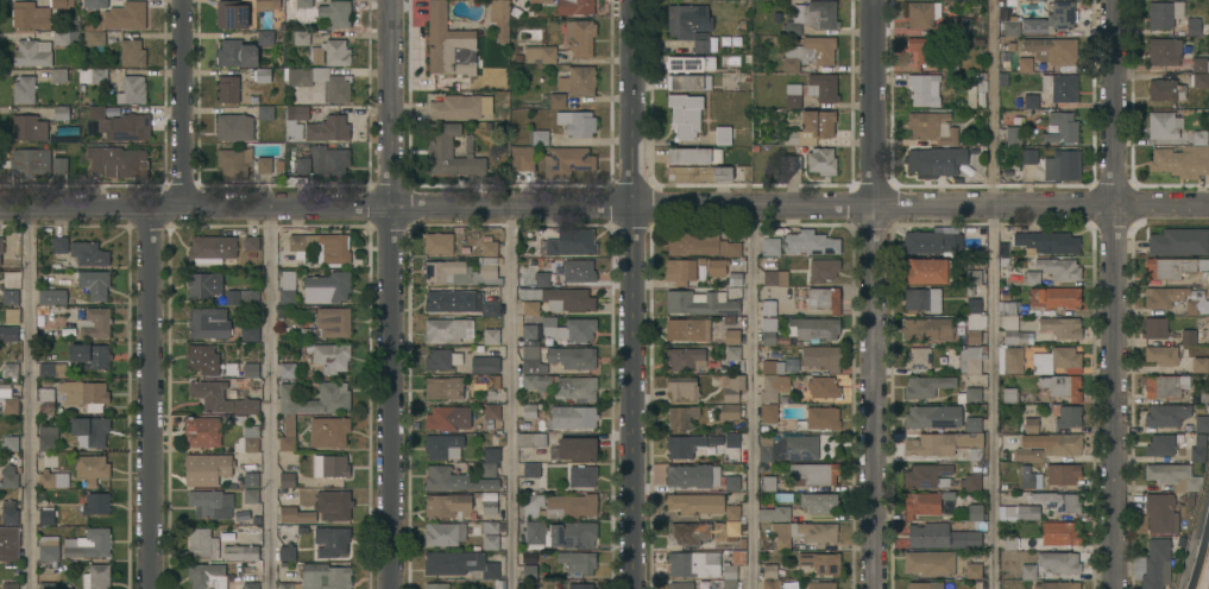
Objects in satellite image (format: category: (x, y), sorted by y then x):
building: (541, 1)
building: (61, 2)
building: (94, 4)
building: (267, 4)
building: (303, 4)
building: (574, 6)
building: (133, 13)
building: (335, 13)
building: (1164, 13)
building: (232, 14)
building: (923, 14)
building: (30, 15)
building: (813, 15)
building: (500, 19)
building: (1051, 19)
building: (688, 25)
building: (955, 25)
building: (1194, 26)
building: (1012, 27)
building: (64, 37)
building: (580, 37)
building: (94, 38)
building: (265, 38)
building: (301, 38)
building: (447, 43)
building: (920, 50)
building: (1052, 50)
building: (1164, 51)
building: (32, 52)
building: (132, 52)
building: (810, 52)
building: (237, 53)
building: (330, 53)
building: (540, 55)
building: (952, 59)
building: (689, 63)
building: (1025, 64)
building: (1199, 64)
building: (58, 75)
building: (93, 75)
building: (263, 75)
building: (577, 80)
building: (1199, 80)
building: (688, 82)
building: (981, 82)
building: (336, 85)
building: (823, 87)
building: (1060, 87)
building: (24, 89)
building: (227, 89)
building: (924, 89)
building: (1165, 89)
building: (132, 90)
building: (793, 95)
building: (558, 100)
building: (1031, 101)
road: (188, 103)
building: (460, 107)
building: (265, 112)
building: (61, 113)
building: (298, 113)
building: (685, 115)
building: (818, 122)
building: (1165, 123)
building: (121, 125)
building: (575, 125)
building: (29, 127)
building: (234, 127)
building: (932, 127)
building: (1062, 127)
building: (328, 128)
building: (294, 132)
building: (723, 135)
building: (1014, 135)
building: (539, 137)
building: (791, 138)
building: (1199, 138)
building: (440, 146)
building: (693, 154)
building: (1029, 156)
building: (522, 158)
building: (329, 160)
building: (568, 160)
building: (821, 160)
building: (117, 161)
building: (234, 161)
building: (934, 161)
building: (1182, 161)
building: (31, 163)
building: (789, 163)
building: (59, 164)
building: (264, 165)
building: (303, 165)
building: (1063, 165)
building: (705, 173)
road: (604, 208)
building: (931, 241)
building: (1047, 241)
building: (1179, 241)
building: (439, 242)
building: (810, 242)
building: (569, 243)
building: (701, 243)
building: (1, 245)
building: (61, 245)
building: (251, 246)
building: (770, 246)
building: (322, 248)
building: (489, 248)
building: (212, 249)
building: (88, 253)
building: (717, 266)
building: (1059, 268)
building: (1176, 268)
building: (823, 270)
building: (462, 271)
building: (579, 271)
building: (680, 271)
building: (927, 271)
building: (1032, 277)
building: (540, 278)
building: (775, 278)
building: (735, 279)
building: (972, 279)
building: (92, 283)
building: (204, 284)
building: (327, 287)
building: (288, 289)
road: (392, 294)
road: (632, 294)
road: (868, 294)
road: (991, 294)
road: (1112, 294)
building: (10, 297)
building: (52, 297)
building: (248, 297)
building: (1056, 297)
building: (1160, 297)
building: (561, 298)
building: (824, 299)
building: (917, 299)
building: (439, 300)
building: (699, 303)
building: (768, 306)
building: (1196, 306)
building: (530, 308)
building: (490, 309)
building: (12, 315)
building: (975, 321)
building: (330, 322)
building: (95, 323)
building: (209, 323)
building: (1012, 324)
building: (1062, 327)
building: (813, 328)
building: (1156, 328)
building: (447, 329)
building: (562, 329)
building: (688, 330)
building: (928, 330)
building: (772, 331)
building: (250, 332)
building: (8, 334)
building: (491, 336)
building: (731, 336)
building: (1189, 336)
building: (732, 353)
building: (90, 355)
building: (1161, 355)
building: (330, 356)
building: (821, 356)
building: (202, 357)
building: (572, 357)
building: (442, 359)
building: (685, 359)
building: (1009, 359)
building: (531, 360)
building: (918, 360)
building: (970, 360)
building: (1054, 360)
building: (485, 363)
building: (1199, 365)
building: (773, 367)
building: (793, 367)
building: (11, 369)
building: (52, 370)
building: (288, 370)
building: (251, 372)
building: (484, 381)
building: (535, 381)
building: (927, 385)
building: (731, 386)
building: (1062, 386)
building: (1166, 386)
building: (577, 387)
building: (682, 387)
building: (823, 387)
building: (443, 388)
building: (775, 388)
building: (84, 394)
building: (1009, 394)
building: (1204, 394)
building: (969, 395)
road: (30, 398)
road: (150, 398)
building: (222, 398)
road: (270, 398)
road: (508, 398)
road: (749, 398)
building: (7, 399)
building: (46, 401)
building: (310, 406)
building: (492, 411)
building: (529, 411)
building: (729, 411)
building: (769, 412)
building: (1166, 414)
building: (933, 416)
building: (1069, 416)
building: (573, 417)
building: (681, 417)
building: (448, 418)
building: (819, 418)
building: (972, 424)
building: (1202, 424)
building: (1031, 425)
building: (90, 431)
building: (201, 431)
building: (329, 431)
building: (46, 438)
building: (248, 439)
building: (530, 439)
building: (732, 439)
building: (10, 443)
building: (945, 444)
building: (443, 445)
building: (684, 445)
building: (1160, 445)
building: (578, 448)
building: (1052, 448)
building: (789, 449)
building: (1197, 451)
building: (490, 461)
building: (330, 465)
building: (92, 467)
building: (207, 468)
building: (813, 474)
building: (1062, 474)
building: (531, 475)
building: (583, 475)
building: (1173, 475)
building: (10, 476)
building: (693, 476)
building: (927, 476)
building: (251, 479)
building: (52, 480)
building: (286, 480)
building: (455, 480)
building: (1028, 480)
building: (768, 482)
building: (971, 482)
building: (732, 483)
building: (251, 495)
building: (490, 502)
building: (695, 502)
building: (818, 502)
building: (925, 502)
building: (1066, 502)
building: (96, 503)
building: (212, 503)
building: (447, 503)
building: (333, 505)
building: (558, 505)
building: (10, 512)
building: (732, 512)
building: (976, 512)
building: (774, 513)
building: (1028, 513)
building: (1161, 513)
building: (46, 515)
building: (296, 515)
building: (490, 526)
building: (725, 531)
building: (688, 532)
building: (804, 532)
building: (443, 533)
building: (534, 533)
building: (1059, 533)
building: (572, 534)
building: (942, 536)
building: (247, 537)
building: (332, 540)
building: (491, 541)
building: (1009, 541)
building: (202, 543)
building: (90, 544)
building: (7, 547)
building: (49, 547)
road: (1197, 552)
building: (241, 553)
building: (286, 553)
building: (738, 556)
building: (578, 560)
building: (820, 562)
building: (1059, 562)
building: (460, 563)
building: (928, 563)
building: (693, 564)
building: (1157, 564)
building: (972, 570)
building: (529, 571)
building: (729, 571)
building: (769, 571)
building: (1028, 571)
building: (96, 576)
building: (207, 576)
building: (321, 577)
building: (250, 584)
building: (730, 584)
building: (770, 584)
building: (820, 584)
building: (10, 585)
building: (46, 585)
building: (436, 585)
building: (580, 585)
building: (680, 585)
building: (925, 585)
building: (1057, 585)

